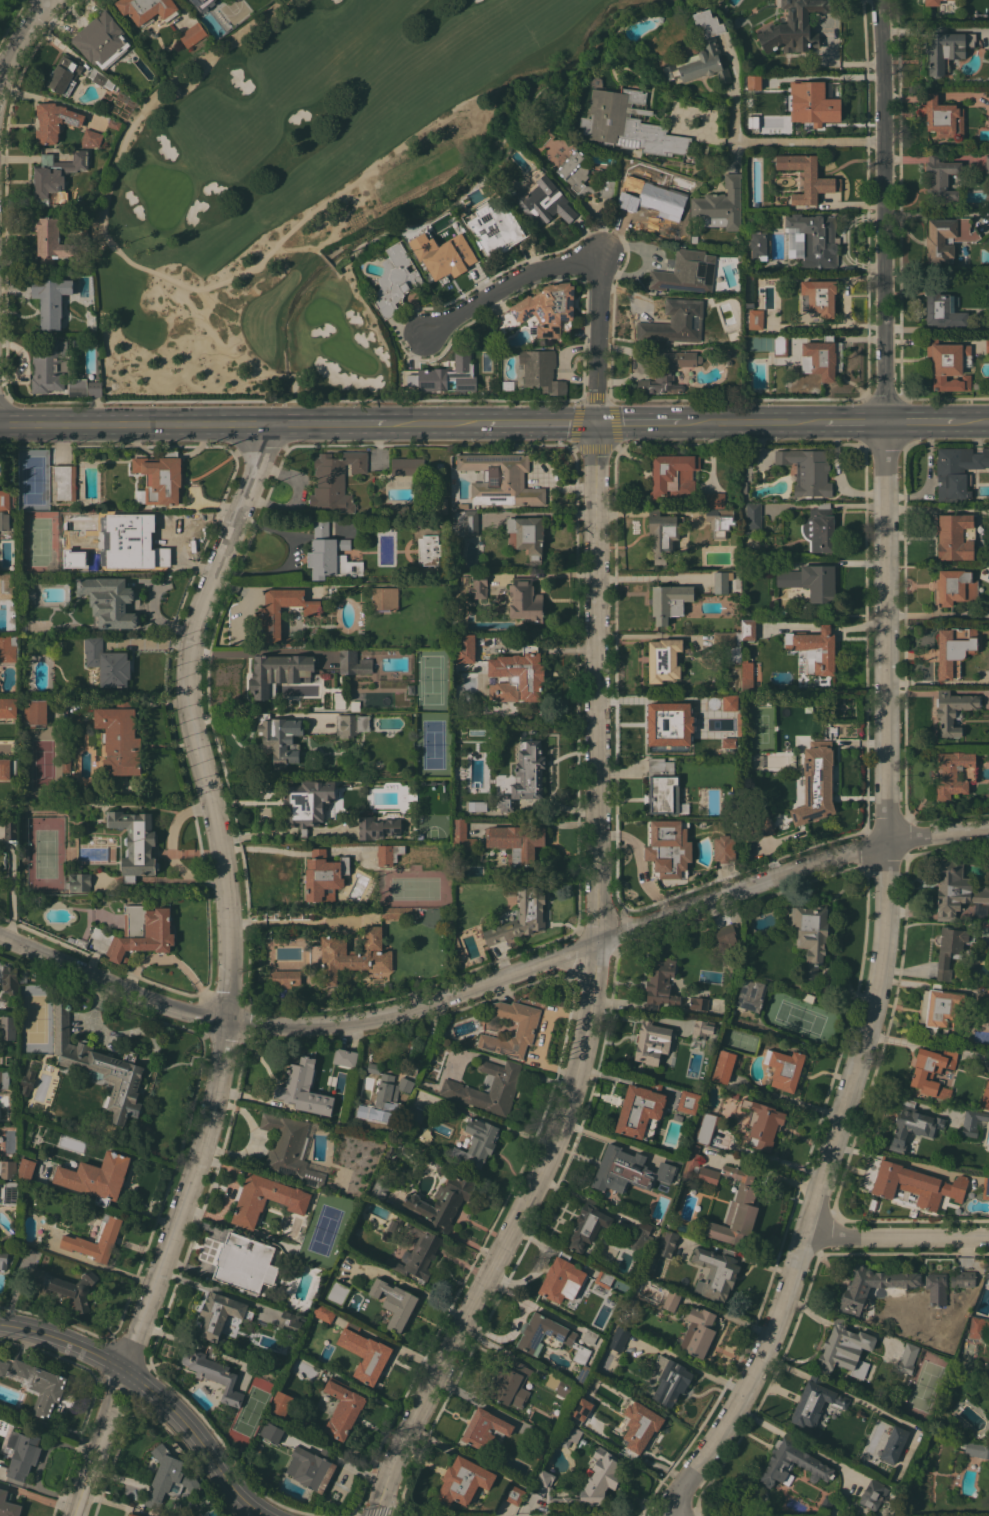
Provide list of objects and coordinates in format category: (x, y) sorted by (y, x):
building: (932, 2)
building: (203, 4)
building: (147, 9)
building: (794, 27)
building: (192, 34)
building: (102, 40)
road: (21, 44)
building: (946, 47)
building: (701, 52)
building: (64, 74)
building: (100, 78)
road: (734, 89)
building: (761, 92)
building: (815, 103)
building: (943, 117)
building: (52, 121)
building: (627, 122)
building: (112, 123)
road: (694, 124)
road: (809, 137)
building: (89, 138)
building: (987, 164)
building: (53, 176)
building: (585, 176)
building: (807, 177)
building: (940, 178)
park: (301, 182)
building: (651, 197)
building: (542, 202)
building: (719, 205)
building: (751, 218)
building: (495, 229)
road: (107, 237)
building: (947, 238)
building: (694, 239)
building: (815, 239)
building: (50, 241)
building: (758, 244)
road: (588, 253)
building: (447, 263)
building: (686, 271)
building: (395, 279)
building: (819, 297)
building: (51, 299)
building: (546, 308)
building: (942, 310)
building: (755, 319)
building: (675, 322)
building: (987, 323)
building: (733, 336)
building: (986, 344)
building: (780, 346)
building: (756, 356)
building: (822, 358)
building: (948, 364)
building: (46, 366)
building: (541, 370)
building: (667, 371)
building: (446, 375)
building: (975, 386)
building: (82, 387)
road: (972, 420)
road: (919, 421)
road: (854, 422)
road: (106, 423)
road: (433, 423)
traffic signals: (600, 423)
road: (639, 423)
road: (752, 423)
road: (239, 424)
building: (408, 466)
building: (807, 470)
building: (957, 471)
building: (674, 475)
building: (161, 477)
building: (501, 479)
building: (64, 481)
building: (335, 481)
building: (7, 499)
building: (711, 500)
building: (753, 518)
building: (7, 521)
building: (719, 521)
building: (466, 522)
building: (819, 528)
building: (663, 533)
building: (527, 535)
building: (955, 536)
building: (119, 543)
building: (428, 549)
building: (330, 554)
road: (290, 558)
building: (721, 581)
building: (811, 581)
building: (478, 585)
building: (6, 587)
building: (956, 587)
building: (30, 594)
building: (384, 598)
building: (108, 601)
building: (526, 601)
building: (669, 601)
building: (268, 614)
building: (748, 629)
building: (291, 641)
building: (729, 644)
building: (8, 648)
building: (466, 648)
building: (815, 649)
building: (954, 650)
building: (663, 659)
building: (107, 662)
building: (354, 662)
building: (278, 672)
building: (517, 675)
building: (747, 676)
building: (410, 689)
building: (734, 702)
building: (8, 707)
building: (953, 710)
building: (35, 711)
building: (362, 722)
building: (688, 723)
building: (346, 726)
building: (119, 739)
building: (279, 739)
building: (754, 762)
building: (66, 763)
building: (7, 768)
building: (954, 774)
building: (525, 776)
road: (885, 781)
building: (662, 786)
building: (816, 790)
building: (308, 803)
building: (378, 827)
building: (11, 829)
building: (758, 829)
building: (462, 836)
building: (516, 842)
building: (135, 843)
building: (668, 849)
building: (724, 849)
building: (25, 853)
building: (389, 854)
building: (324, 875)
building: (78, 881)
building: (956, 889)
road: (10, 890)
road: (225, 895)
building: (389, 912)
building: (521, 916)
building: (139, 932)
building: (809, 934)
building: (727, 935)
building: (77, 941)
building: (950, 948)
building: (348, 954)
building: (23, 976)
building: (284, 977)
road: (495, 979)
building: (11, 982)
building: (660, 984)
building: (387, 987)
road: (591, 992)
building: (751, 995)
building: (987, 996)
building: (698, 1003)
building: (937, 1009)
building: (8, 1027)
building: (512, 1028)
building: (703, 1028)
building: (652, 1041)
road: (901, 1041)
building: (345, 1057)
building: (100, 1066)
building: (723, 1066)
building: (373, 1067)
building: (785, 1069)
building: (933, 1070)
building: (4, 1078)
building: (27, 1081)
building: (304, 1088)
building: (457, 1088)
building: (390, 1091)
building: (734, 1093)
building: (985, 1097)
building: (688, 1101)
building: (366, 1109)
building: (641, 1110)
building: (415, 1112)
building: (972, 1122)
building: (370, 1123)
building: (762, 1124)
building: (913, 1125)
building: (705, 1127)
building: (384, 1137)
building: (713, 1138)
building: (476, 1143)
building: (289, 1148)
building: (391, 1150)
building: (692, 1159)
building: (26, 1168)
building: (8, 1169)
building: (621, 1169)
building: (668, 1169)
building: (97, 1177)
building: (916, 1184)
building: (985, 1186)
building: (380, 1188)
building: (10, 1193)
building: (444, 1197)
building: (293, 1201)
building: (872, 1203)
building: (736, 1208)
building: (394, 1226)
building: (587, 1226)
building: (682, 1227)
road: (896, 1236)
building: (641, 1237)
building: (96, 1240)
building: (667, 1243)
building: (418, 1254)
building: (3, 1258)
building: (245, 1263)
building: (988, 1268)
building: (716, 1272)
building: (963, 1278)
building: (562, 1279)
building: (602, 1281)
building: (67, 1287)
building: (936, 1288)
building: (856, 1290)
building: (337, 1292)
building: (671, 1300)
building: (394, 1302)
building: (323, 1312)
building: (220, 1313)
building: (289, 1322)
building: (979, 1327)
building: (698, 1332)
building: (548, 1336)
building: (589, 1337)
building: (618, 1337)
road: (63, 1339)
building: (844, 1350)
building: (365, 1354)
building: (907, 1358)
road: (781, 1365)
road: (691, 1366)
building: (214, 1373)
building: (581, 1375)
building: (671, 1379)
building: (510, 1383)
building: (37, 1384)
building: (558, 1384)
road: (116, 1388)
building: (815, 1401)
building: (281, 1403)
building: (343, 1408)
building: (581, 1410)
building: (639, 1426)
building: (485, 1428)
building: (271, 1432)
building: (568, 1435)
road: (197, 1440)
building: (539, 1444)
building: (894, 1444)
building: (976, 1449)
building: (22, 1454)
road: (93, 1461)
building: (792, 1463)
building: (311, 1467)
building: (607, 1475)
building: (169, 1476)
building: (464, 1480)
road: (41, 1488)
building: (513, 1494)
building: (873, 1494)
building: (8, 1504)
building: (129, 1514)
building: (133, 1514)

